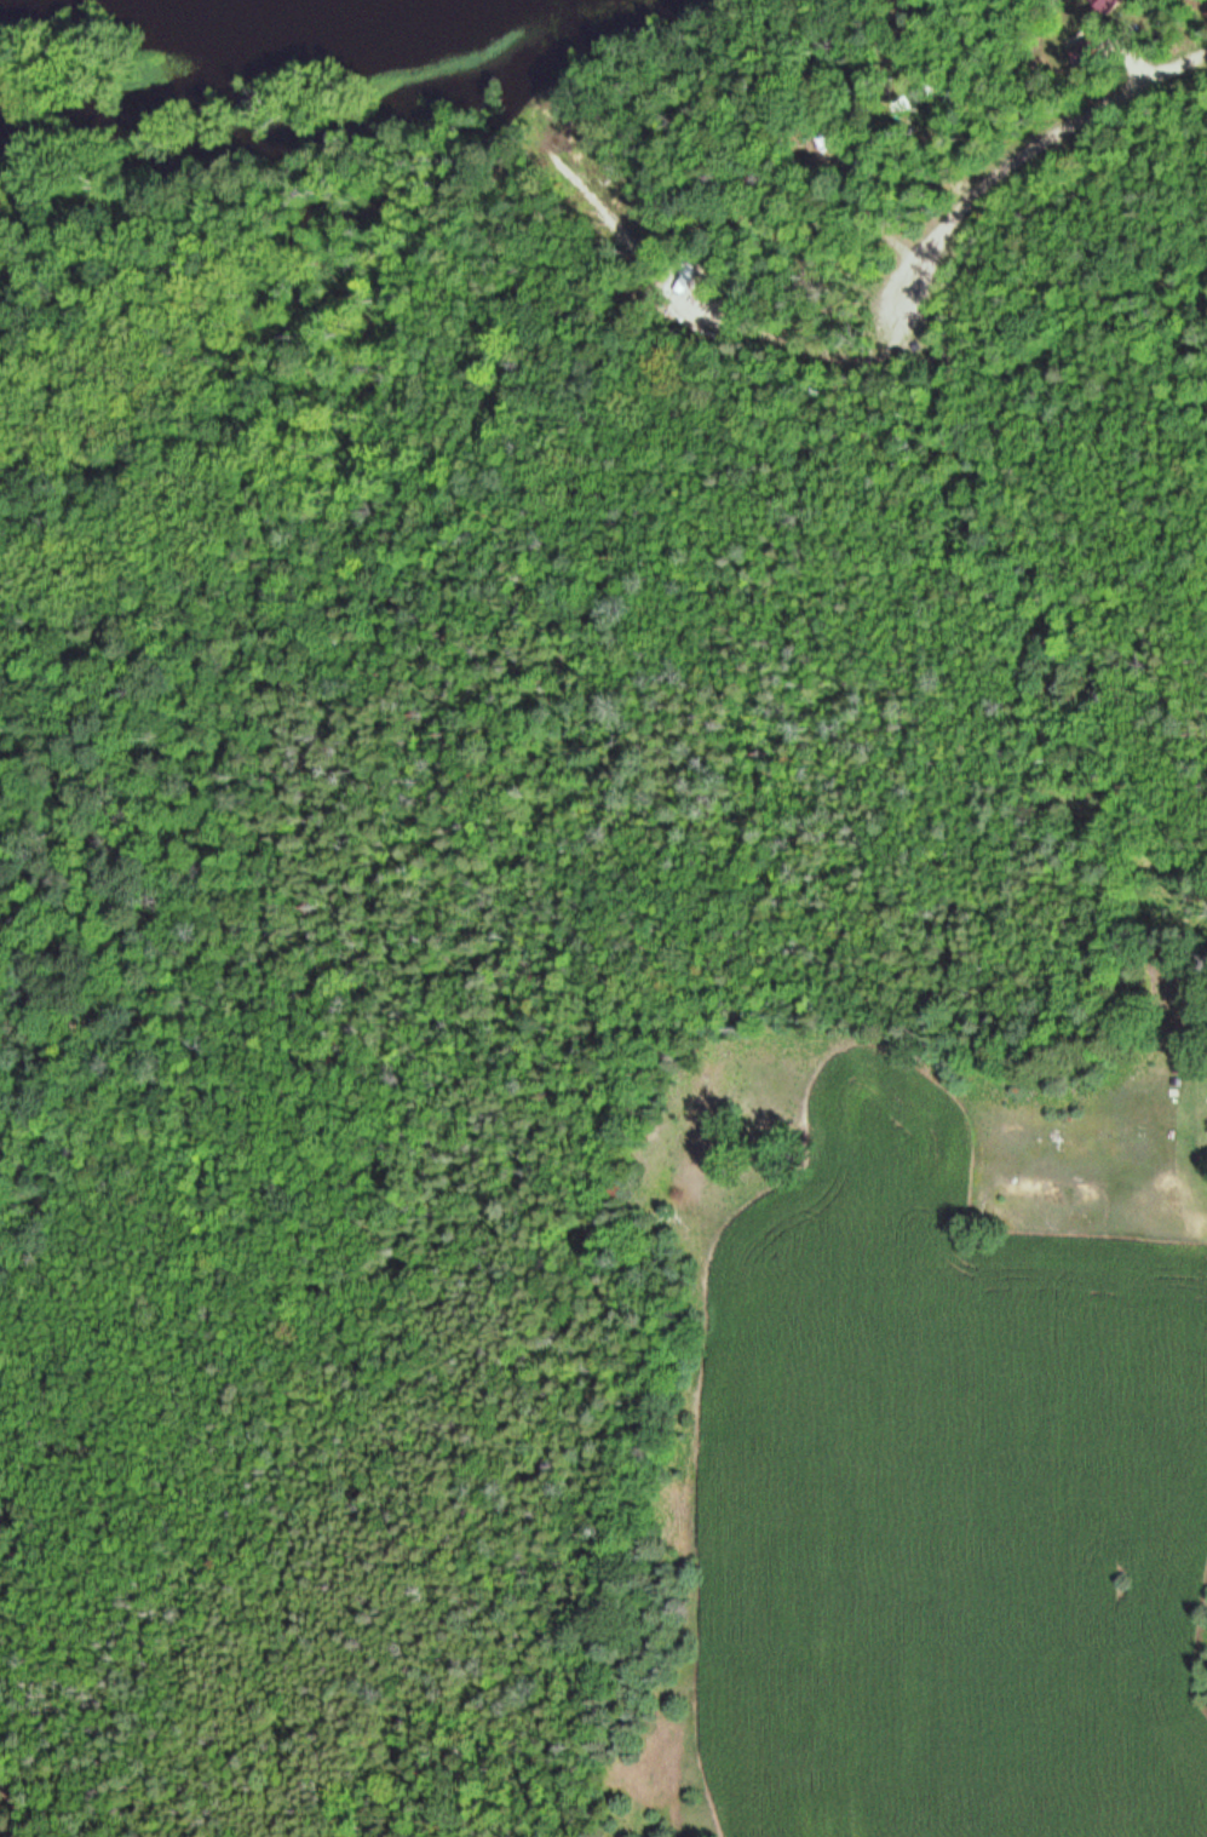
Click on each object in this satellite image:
road: (1033, 148)

